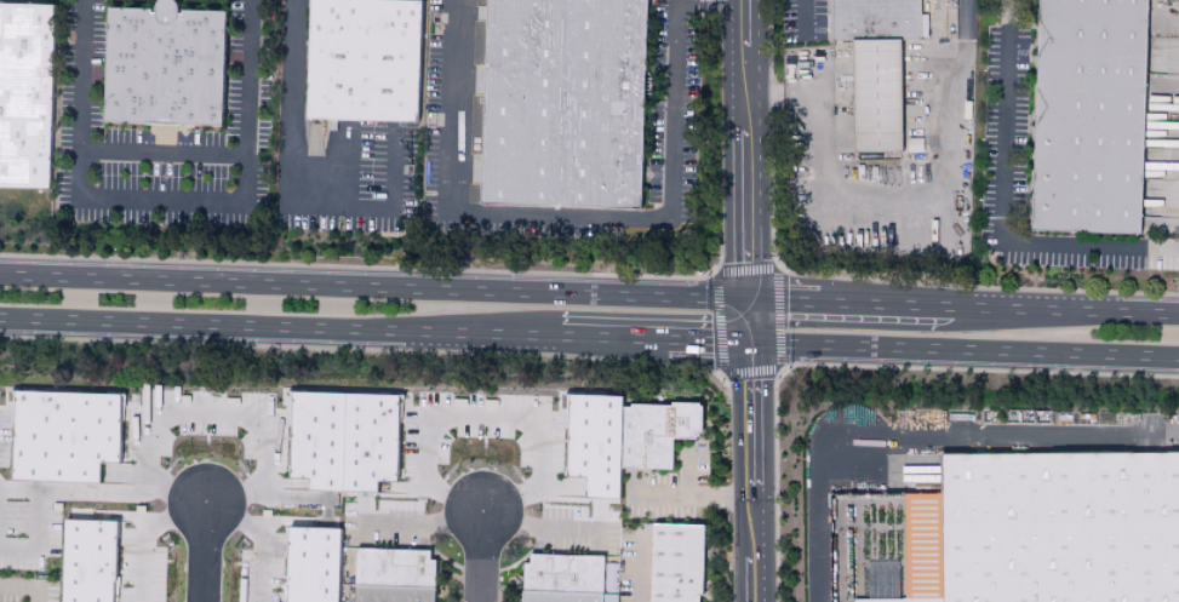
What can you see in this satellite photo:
road: (806, 19)
building: (365, 61)
building: (872, 64)
building: (166, 67)
building: (25, 94)
building: (565, 103)
building: (1084, 115)
road: (743, 150)
road: (160, 156)
road: (347, 170)
road: (282, 197)
road: (903, 199)
road: (160, 201)
road: (1002, 212)
road: (562, 216)
road: (371, 288)
traffic signals: (743, 302)
road: (961, 308)
road: (744, 311)
road: (374, 331)
traffic signals: (749, 343)
road: (963, 350)
road: (239, 408)
road: (491, 411)
building: (65, 428)
building: (617, 437)
road: (923, 437)
building: (345, 440)
road: (750, 460)
road: (686, 474)
road: (104, 491)
road: (657, 495)
road: (717, 495)
road: (477, 523)
building: (1060, 528)
road: (145, 533)
road: (204, 552)
road: (481, 556)
building: (82, 561)
building: (671, 563)
building: (307, 564)
road: (639, 566)
building: (390, 575)
building: (561, 579)
road: (22, 594)
building: (882, 594)

